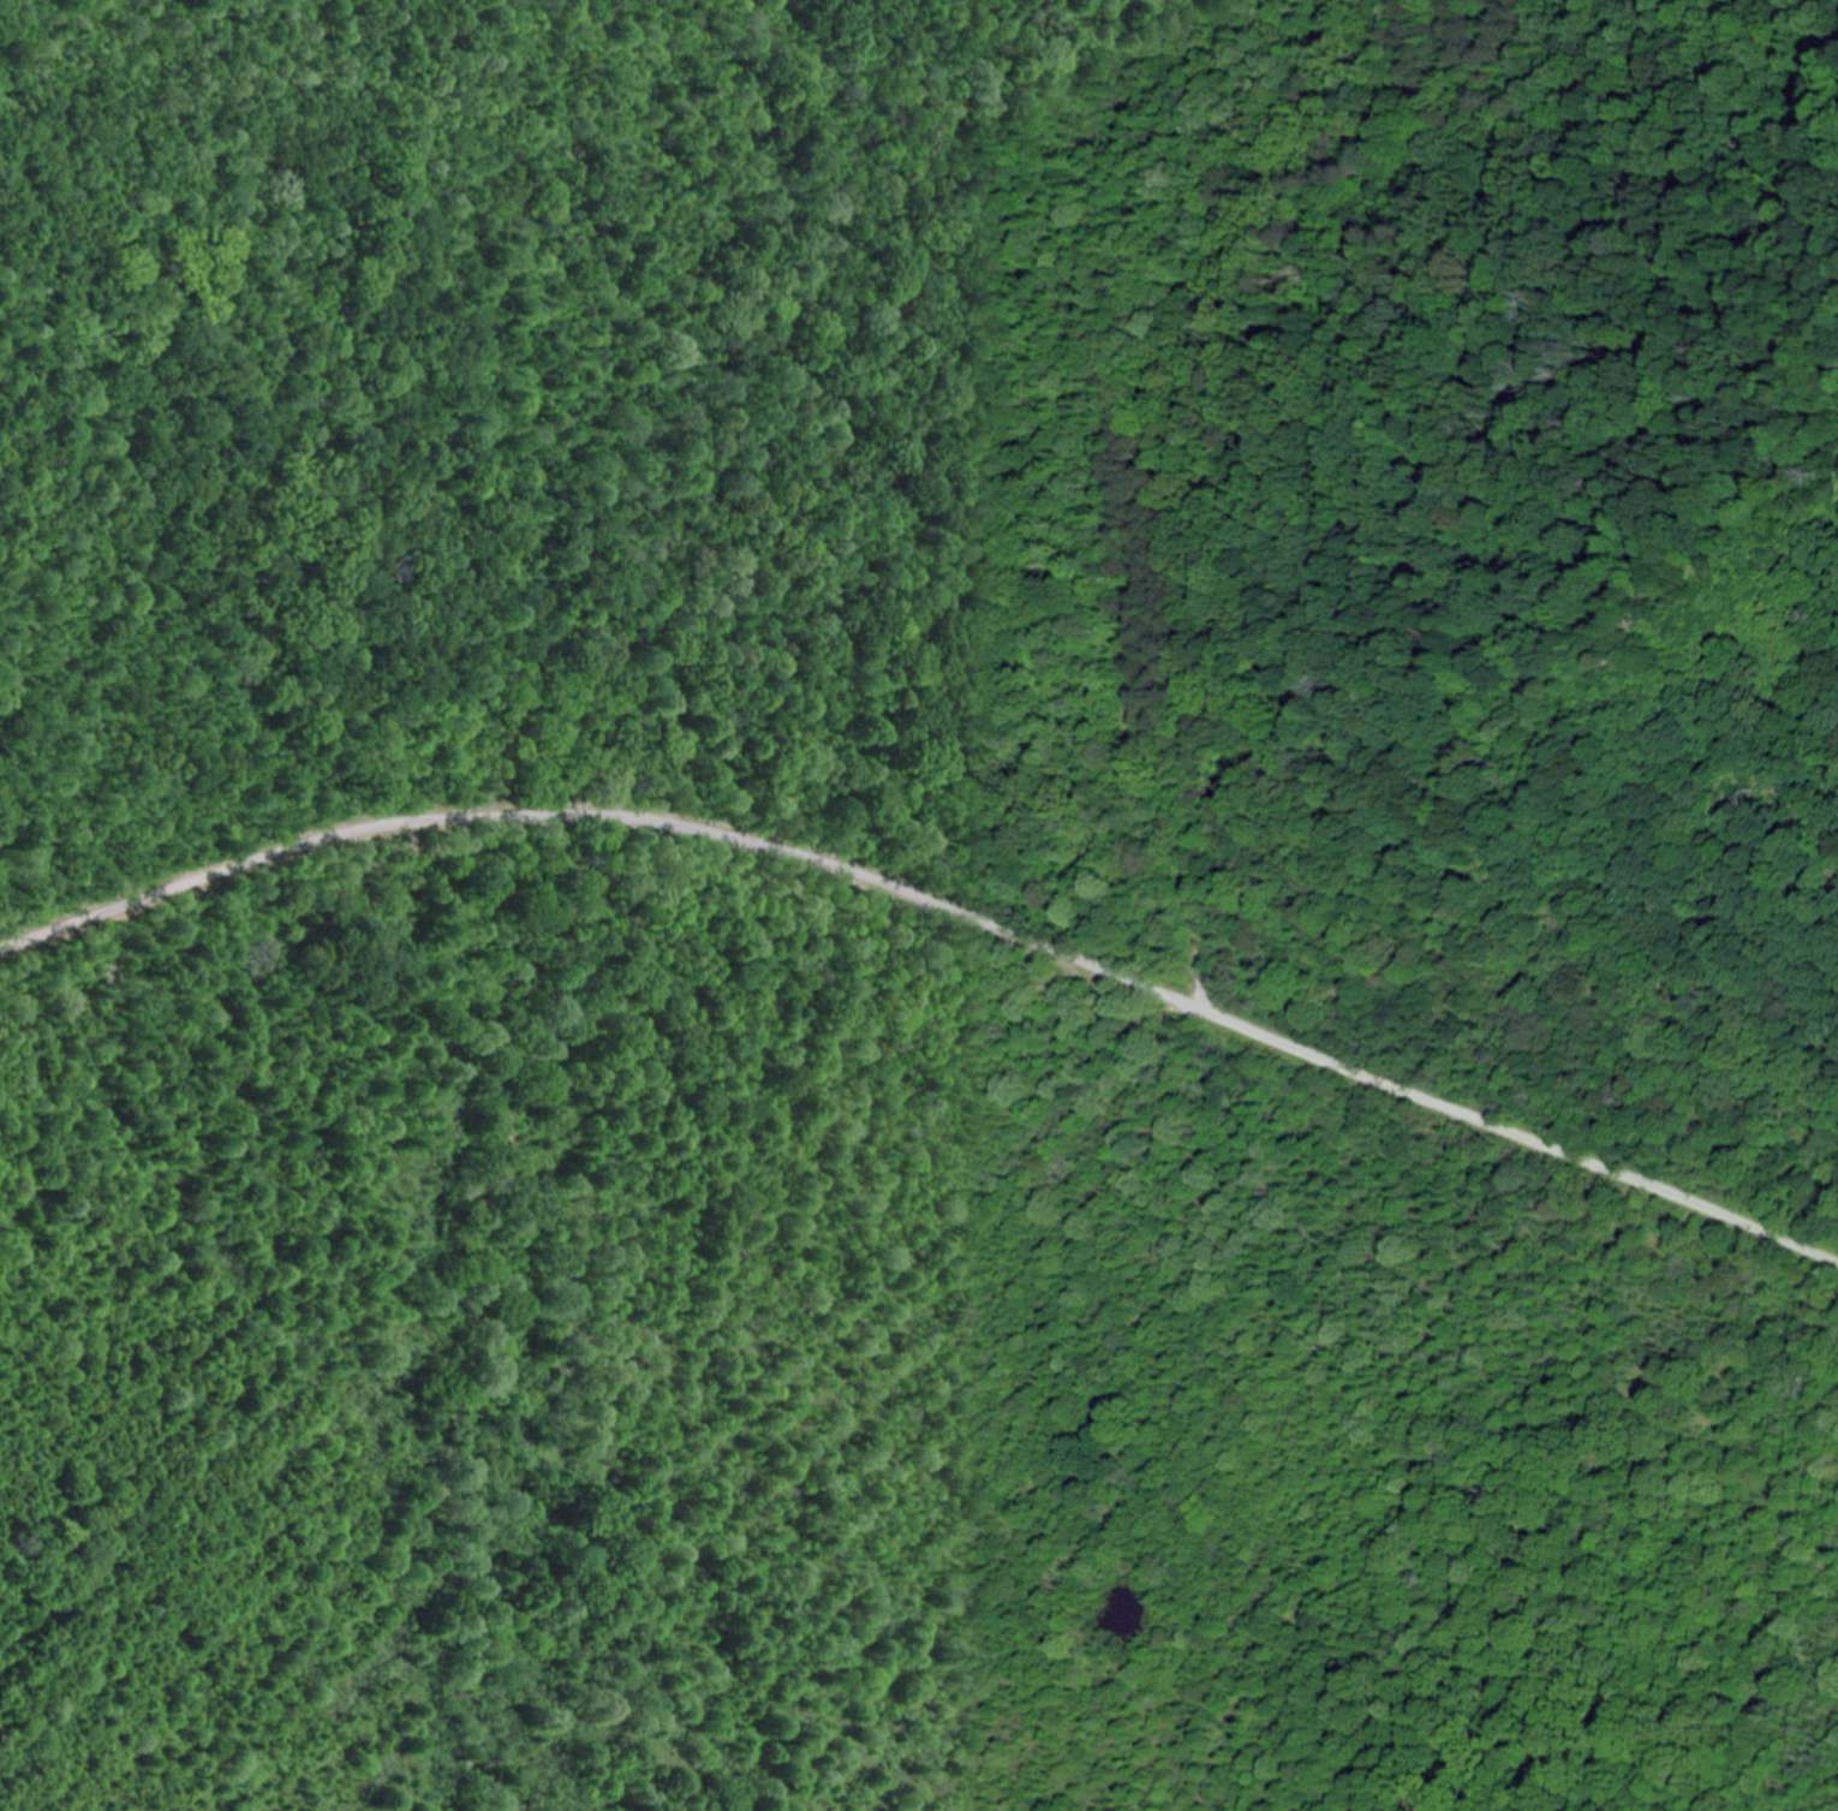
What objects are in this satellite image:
road: (937, 901)

